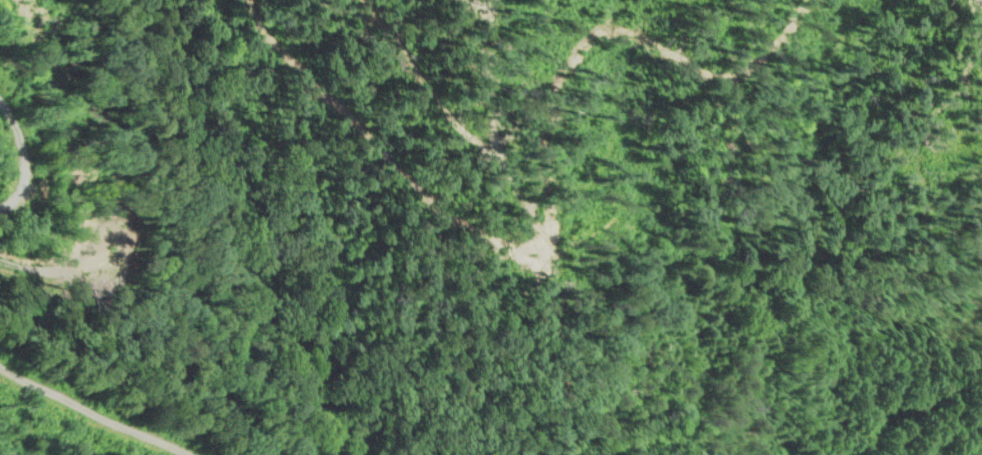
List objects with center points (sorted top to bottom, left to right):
road: (17, 175)
road: (98, 408)

